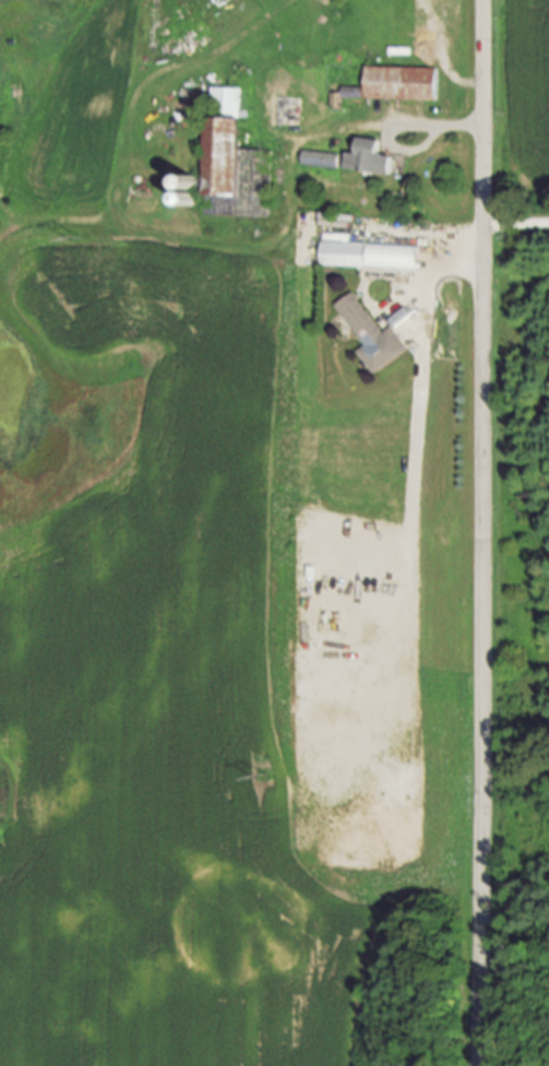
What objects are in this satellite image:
road: (441, 59)
building: (401, 82)
road: (386, 126)
building: (368, 157)
building: (235, 159)
road: (515, 223)
power tower: (74, 242)
building: (370, 254)
building: (370, 334)
road: (480, 533)
power tower: (262, 775)

